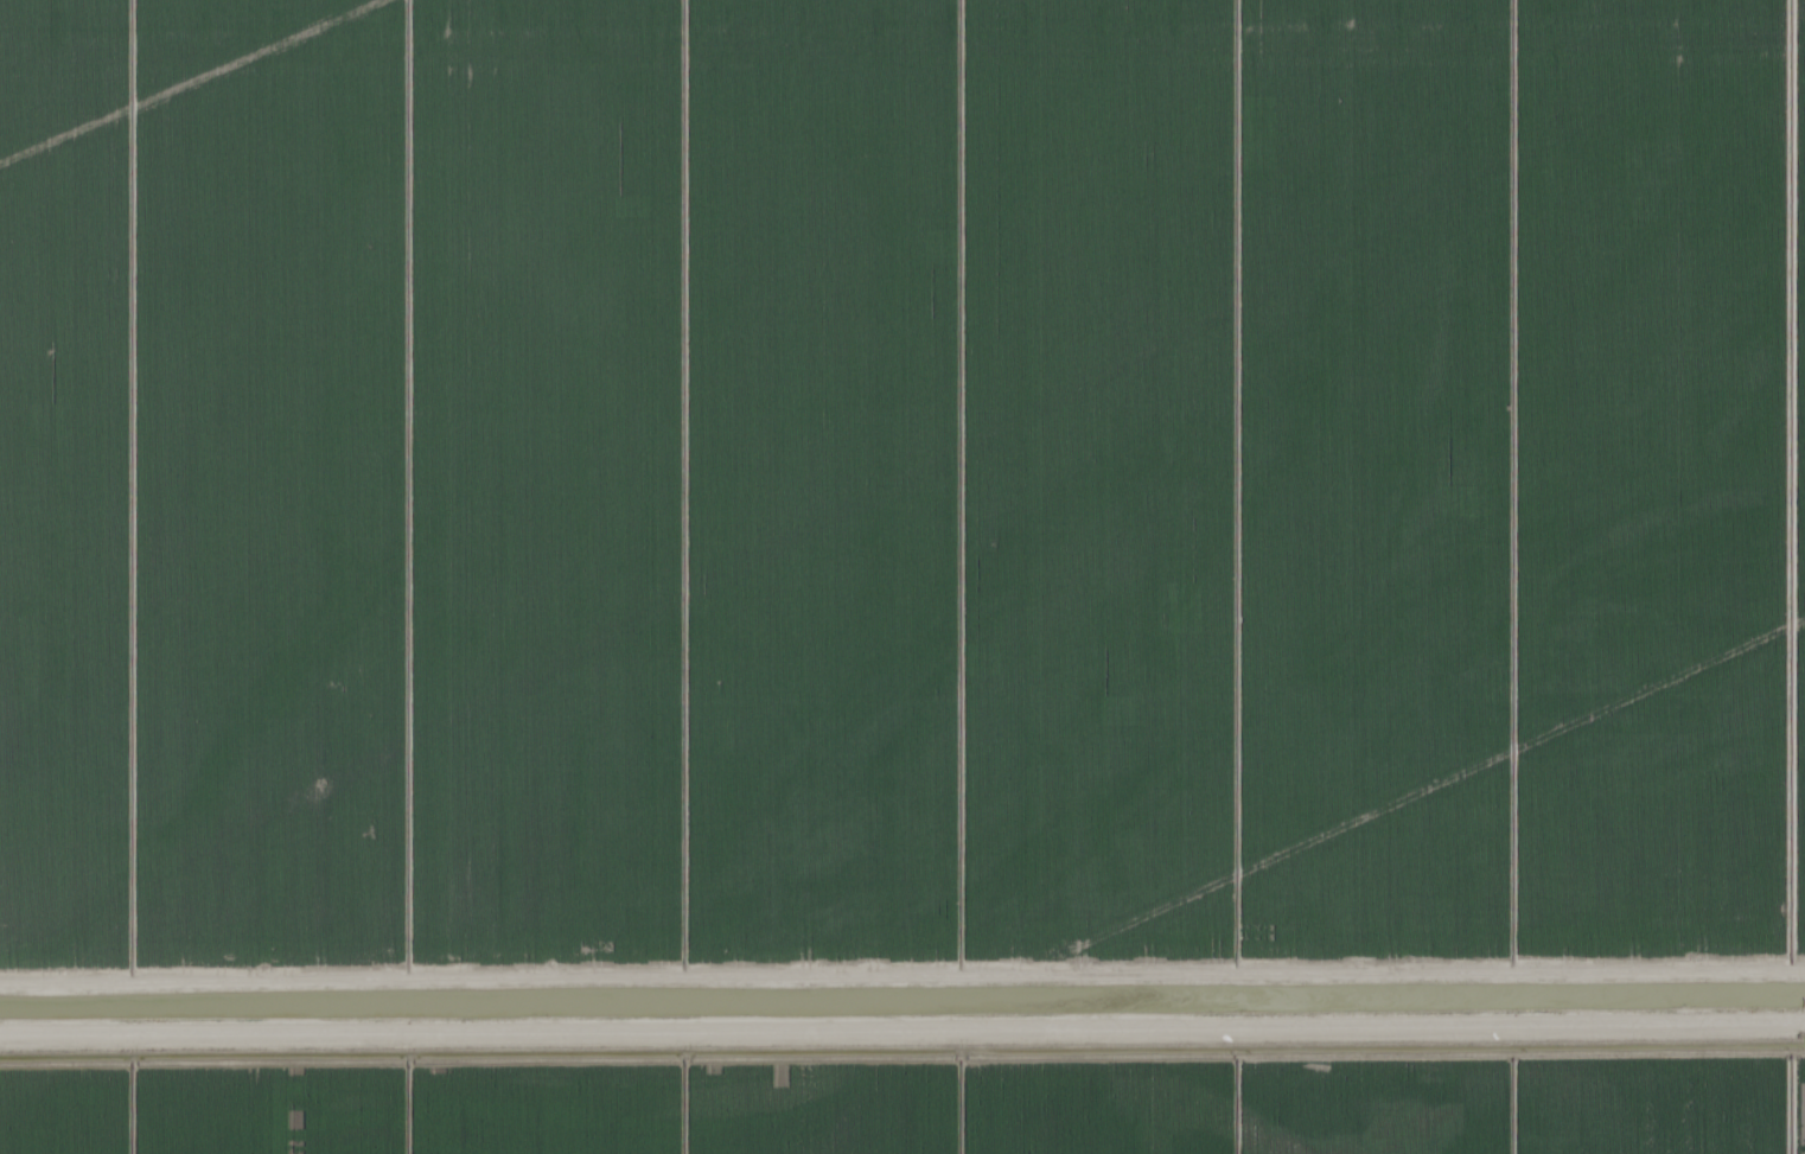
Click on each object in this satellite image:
road: (901, 975)
road: (902, 1029)

